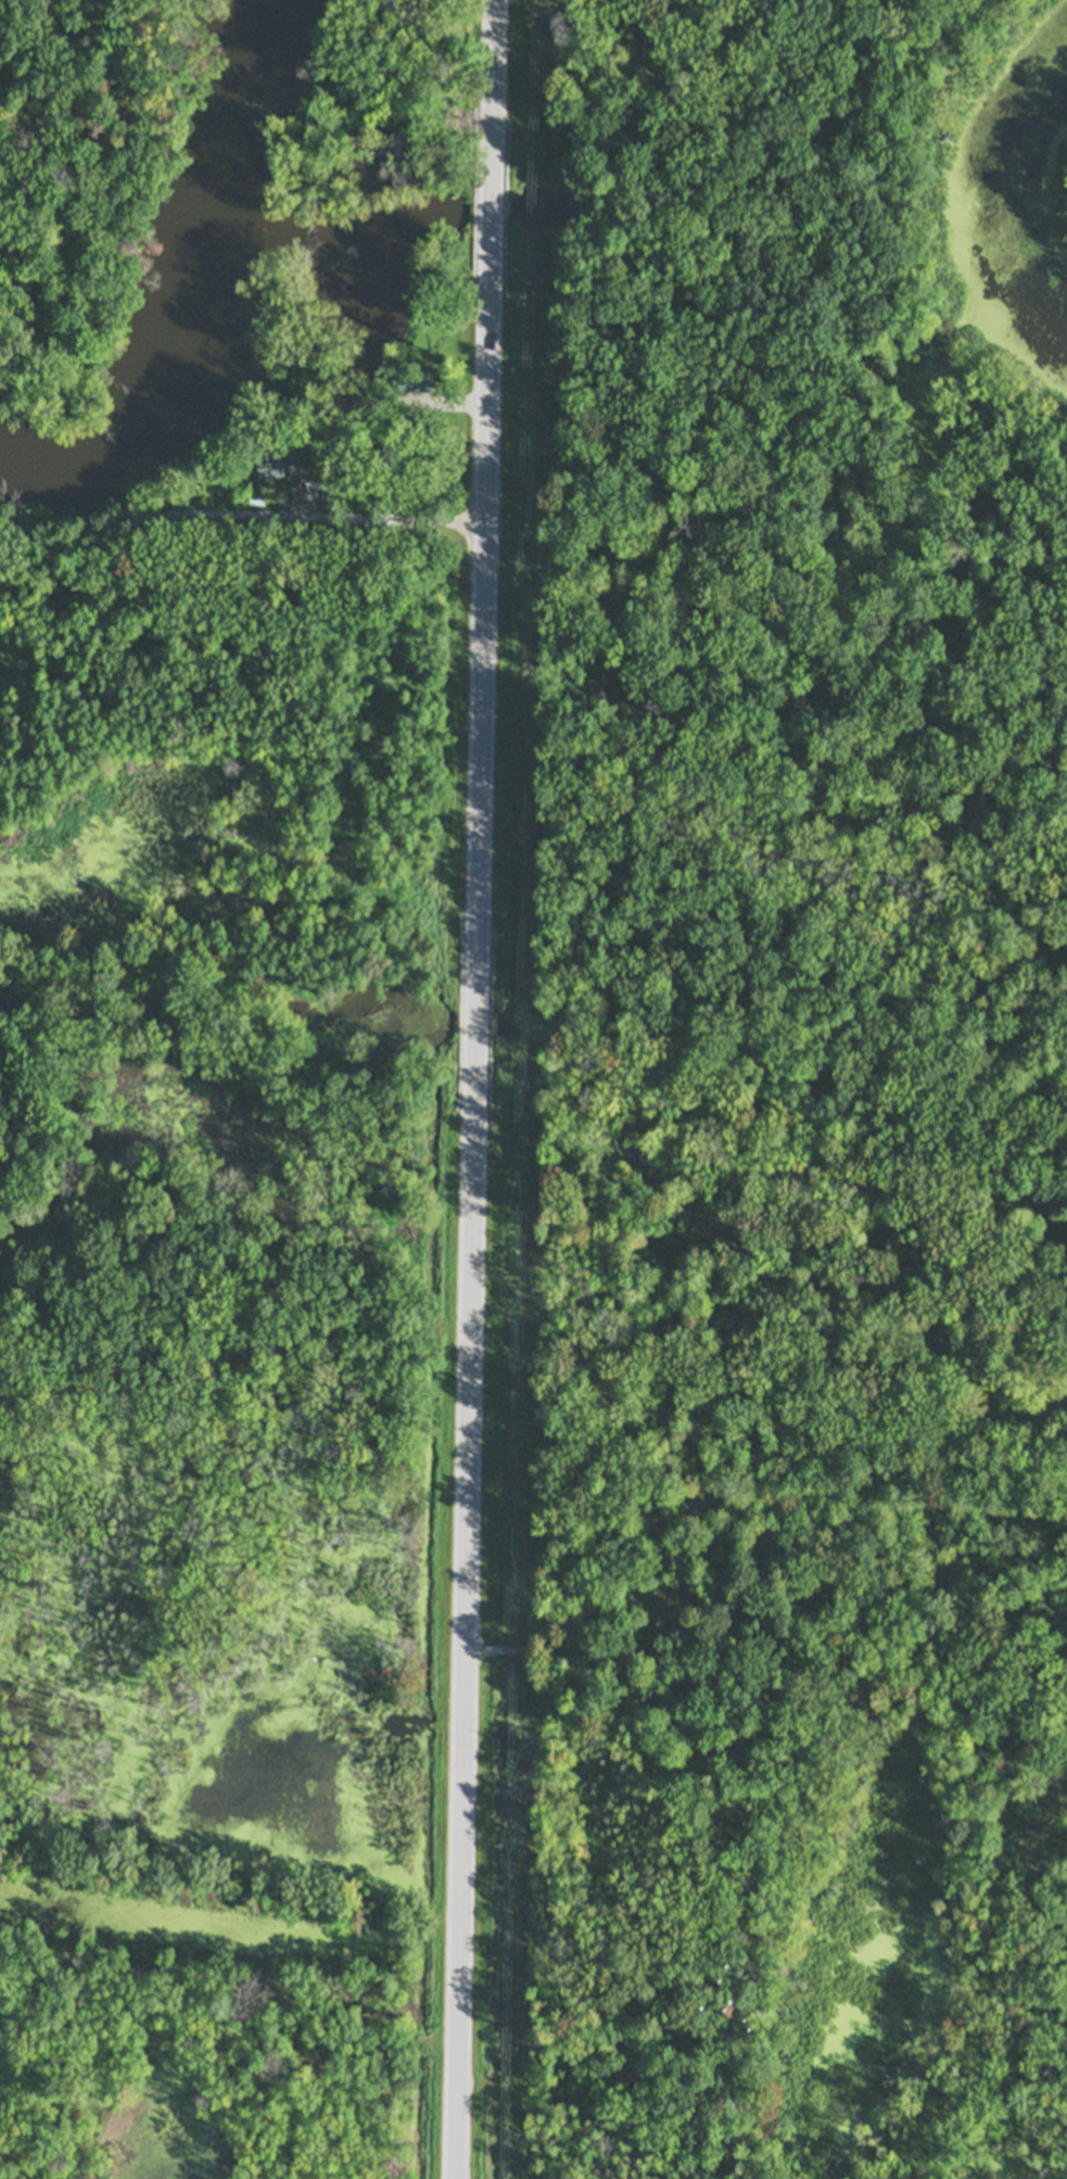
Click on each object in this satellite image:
building: (314, 93)
river: (200, 306)
building: (416, 381)
building: (294, 452)
building: (382, 454)
building: (270, 459)
road: (242, 516)
road: (475, 1089)

